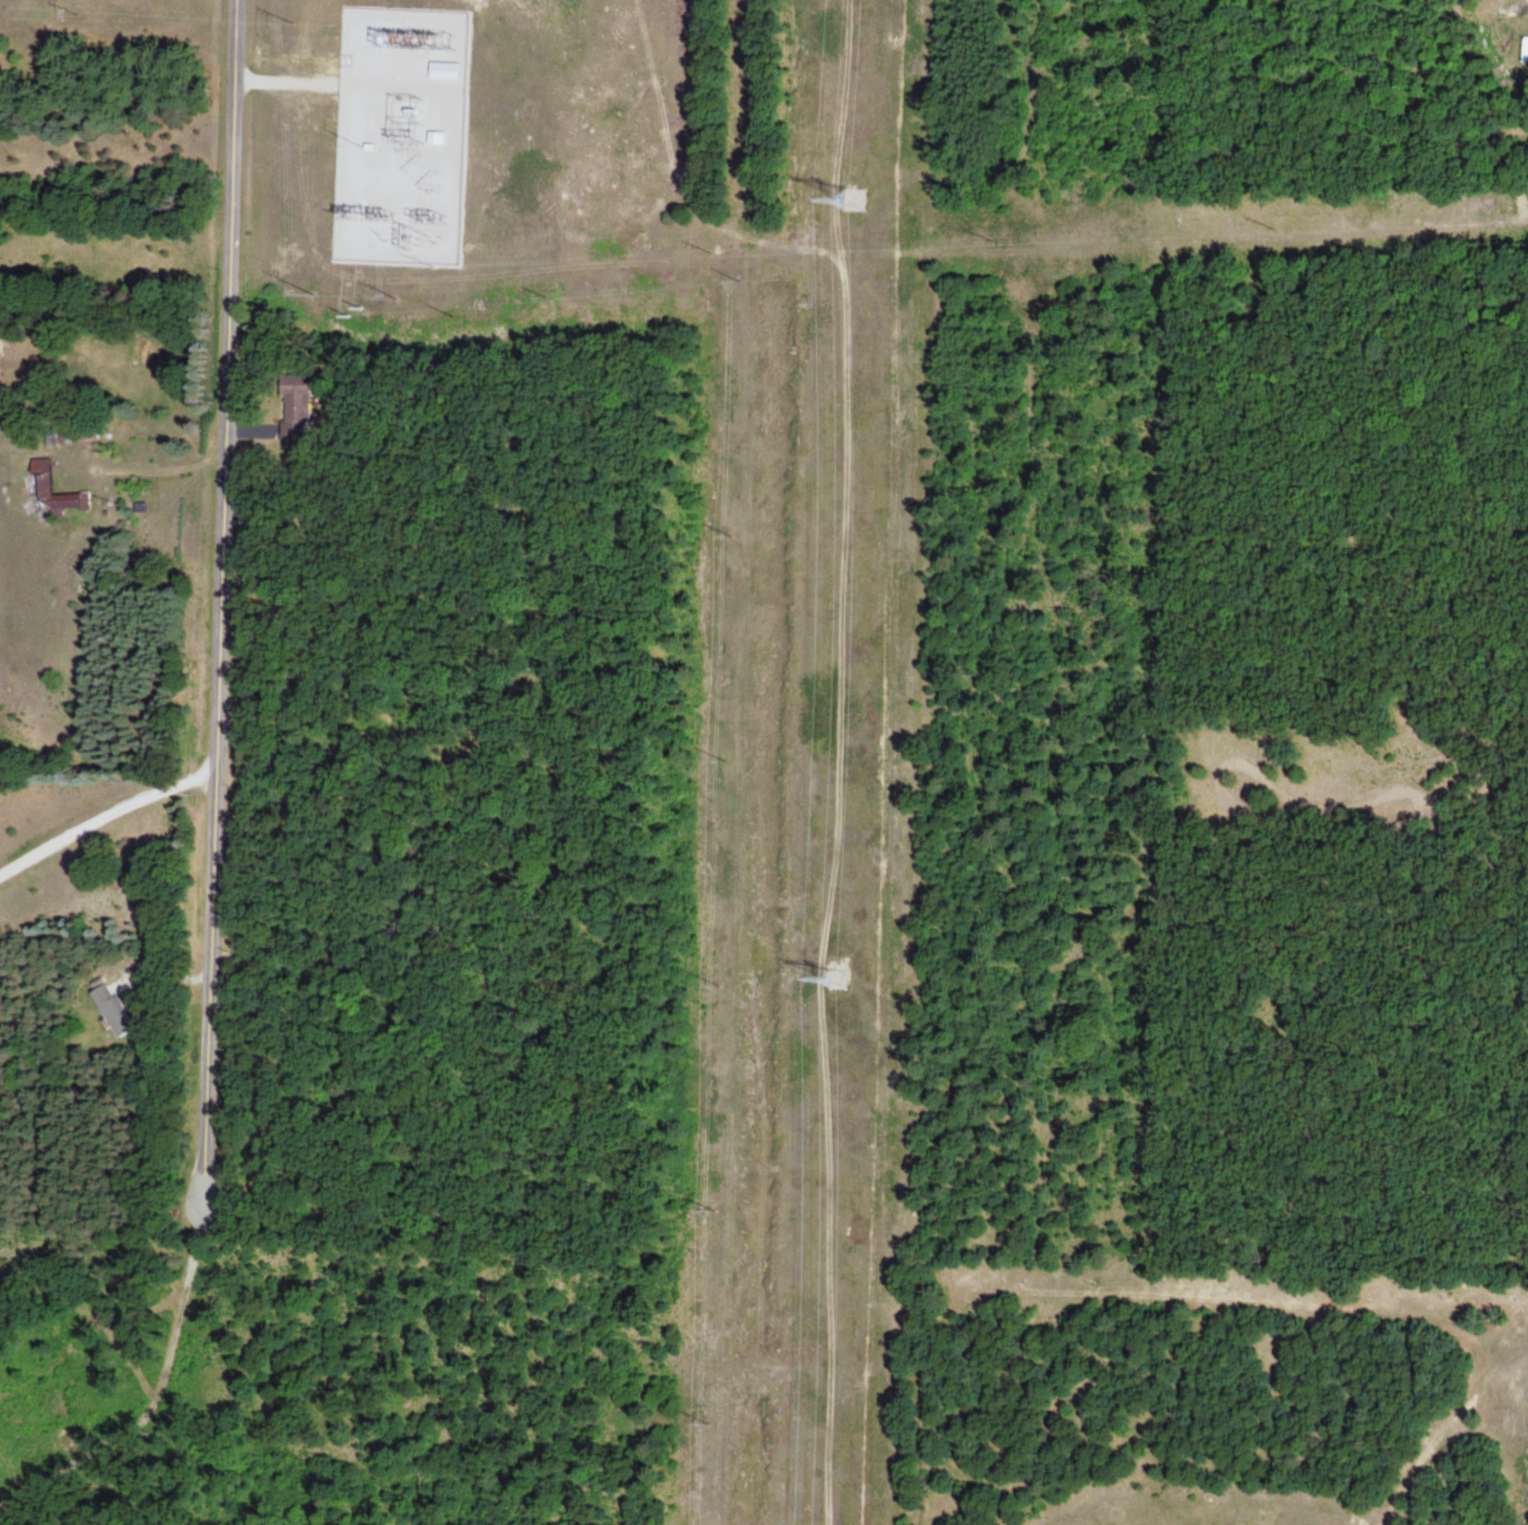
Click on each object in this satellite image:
road: (288, 84)
road: (1488, 117)
power substation: (402, 138)
building: (436, 139)
power tower: (855, 197)
building: (296, 408)
building: (57, 440)
building: (41, 477)
road: (220, 605)
power tower: (834, 977)
building: (113, 1011)
landfill: (1206, 1396)

